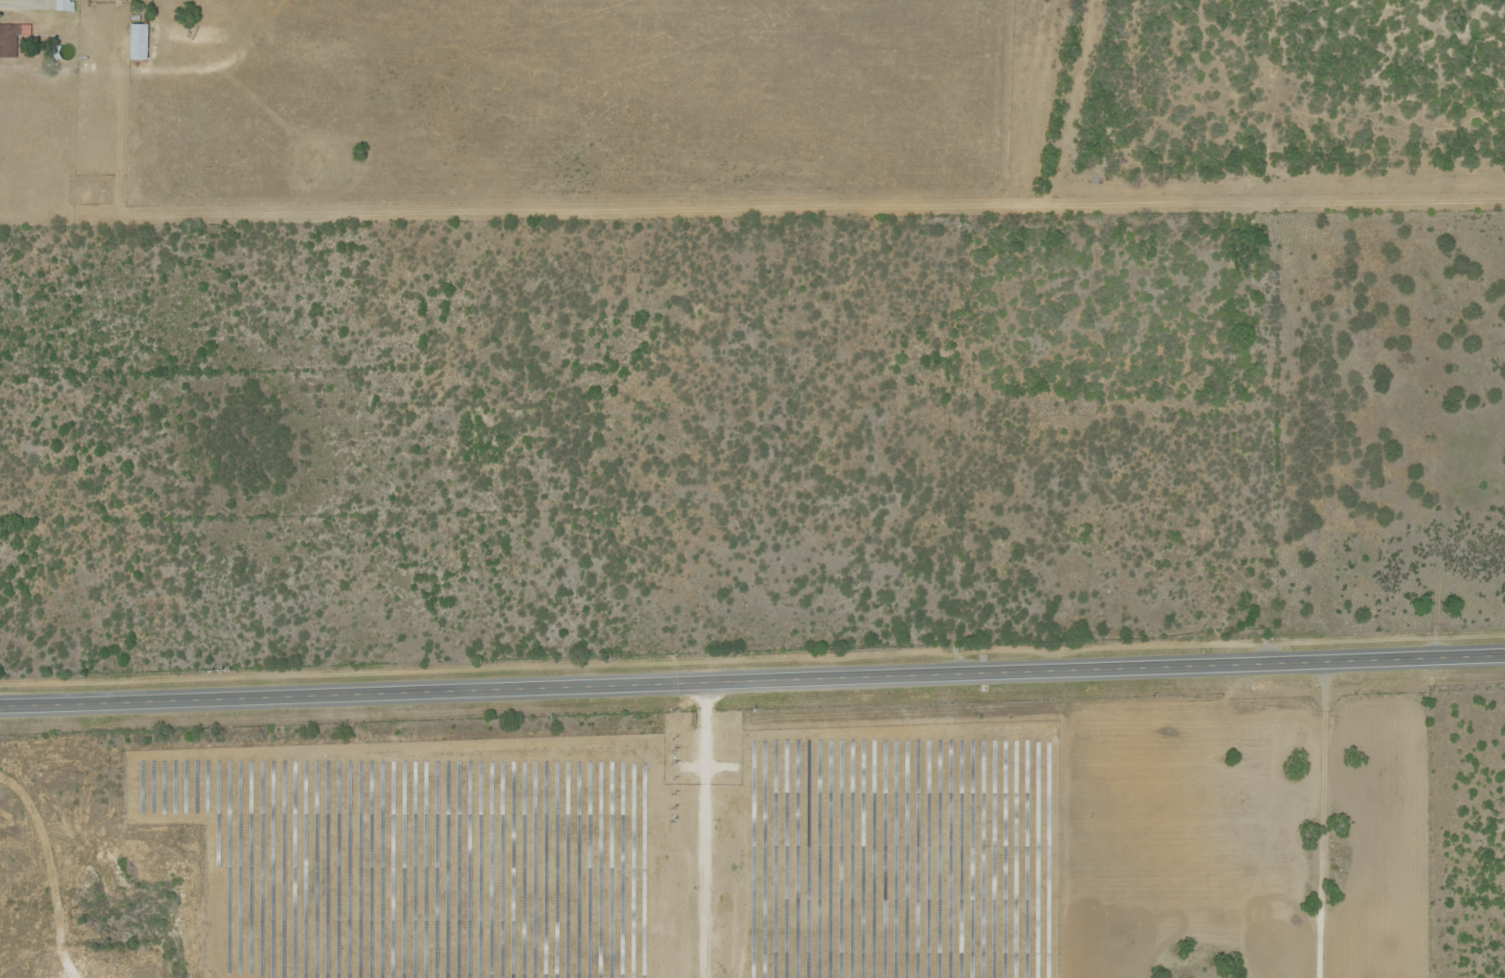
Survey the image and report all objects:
building: (64, 5)
building: (12, 37)
building: (140, 40)
road: (752, 675)
road: (1298, 820)

